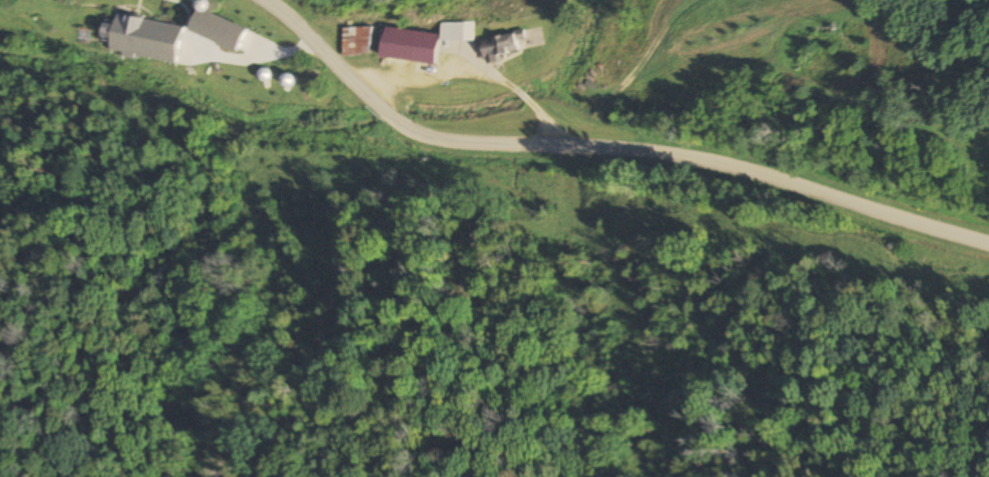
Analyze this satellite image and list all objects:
building: (457, 32)
building: (144, 38)
building: (356, 41)
building: (502, 47)
road: (607, 147)

